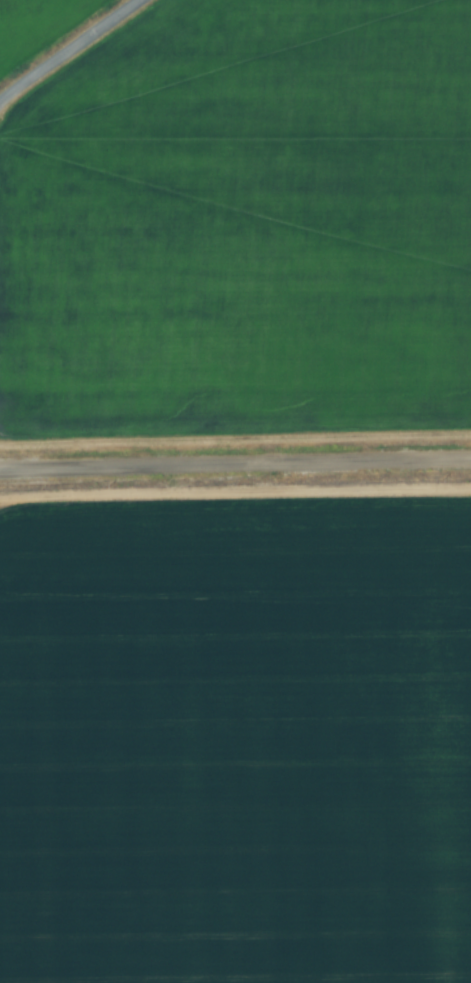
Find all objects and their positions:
road: (67, 50)
road: (235, 464)

